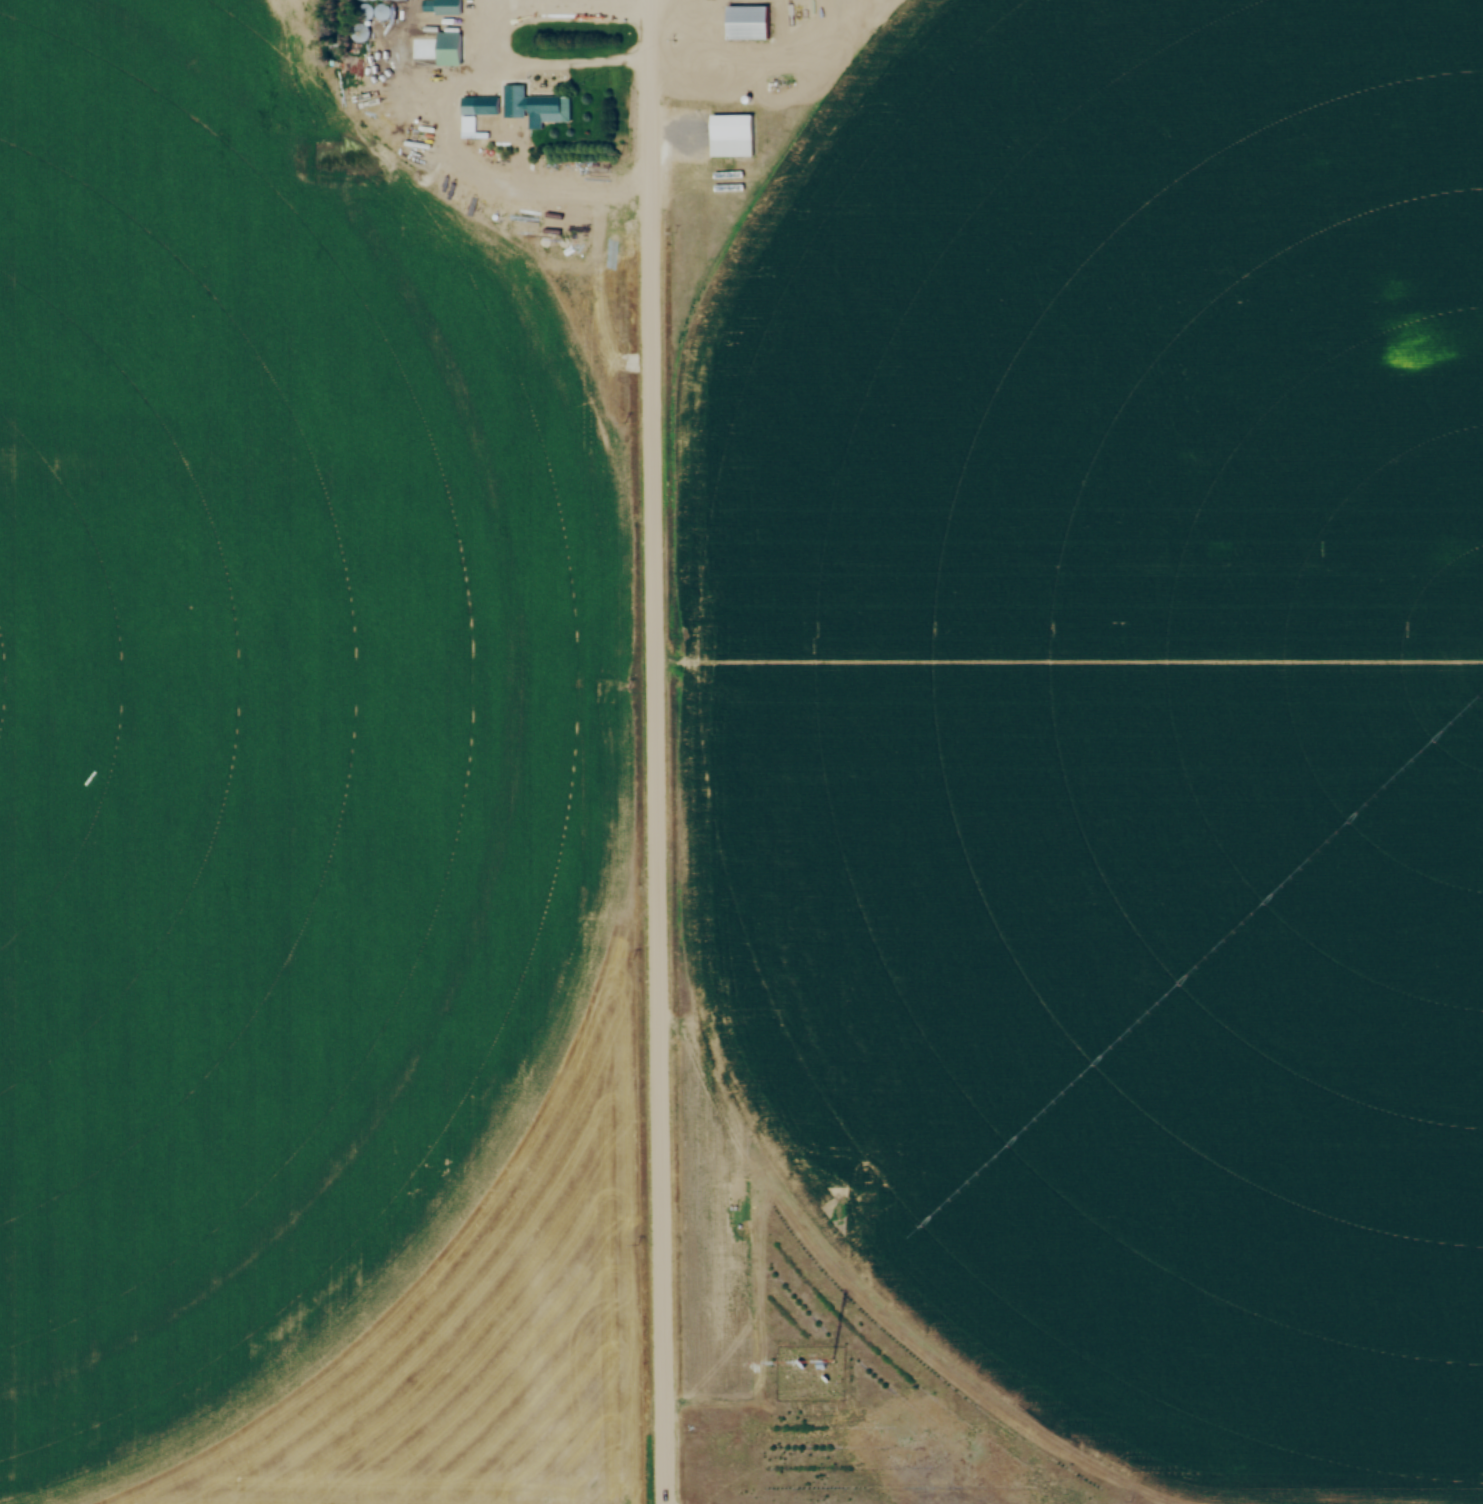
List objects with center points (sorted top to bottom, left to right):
building: (450, 7)
road: (540, 7)
building: (369, 10)
silo: (369, 10)
building: (387, 10)
silo: (387, 10)
building: (751, 23)
building: (451, 49)
building: (409, 84)
building: (486, 105)
building: (533, 107)
building: (734, 136)
road: (656, 752)

